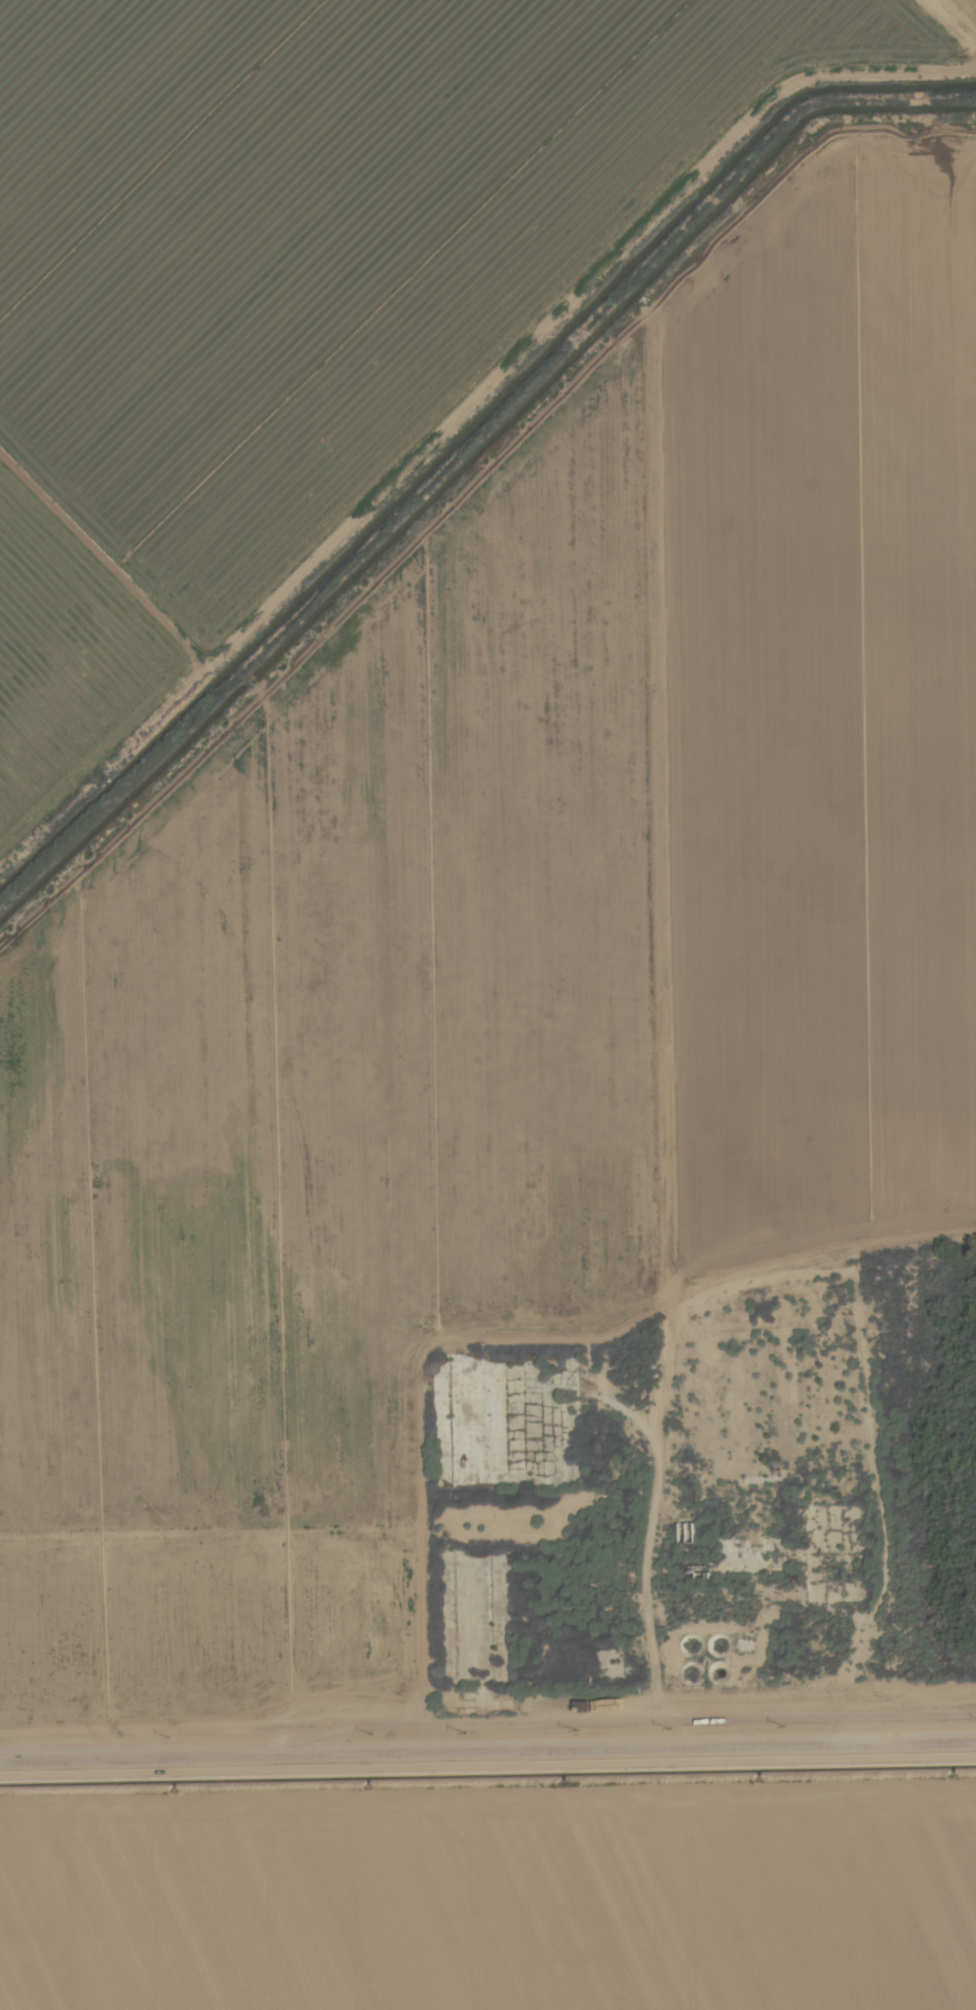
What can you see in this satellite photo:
road: (488, 1735)

